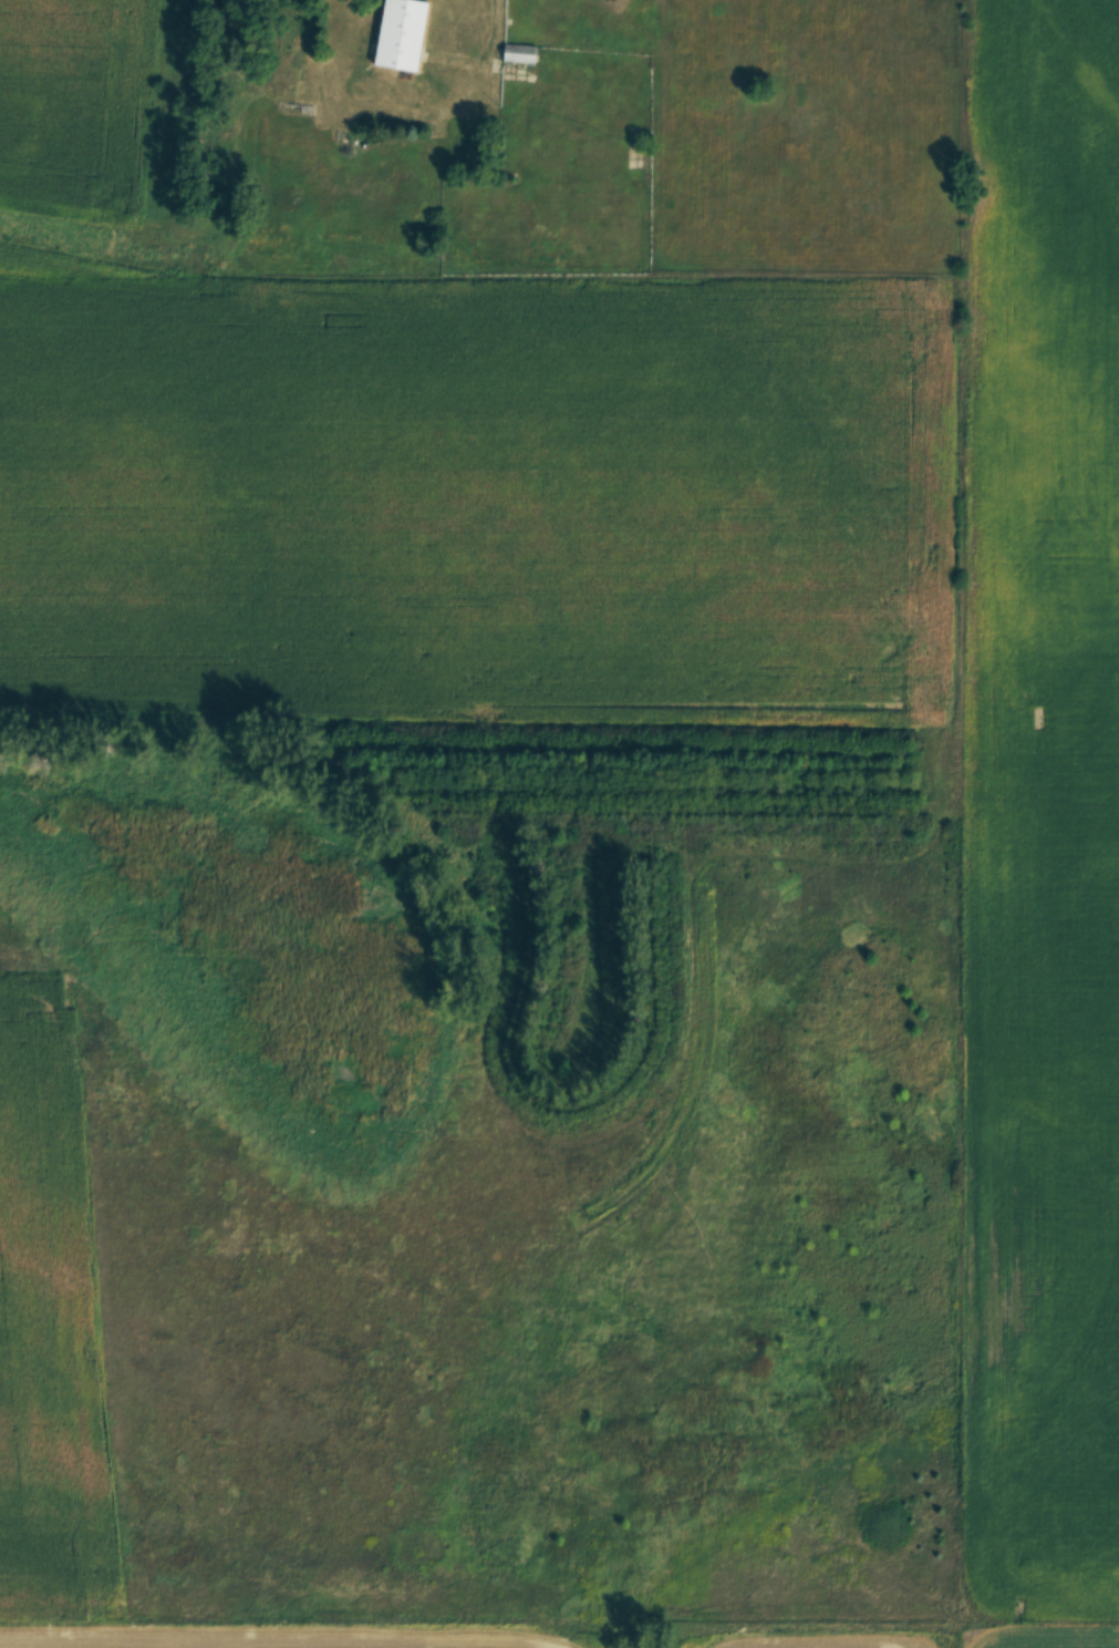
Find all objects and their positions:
building: (403, 34)
building: (520, 53)

